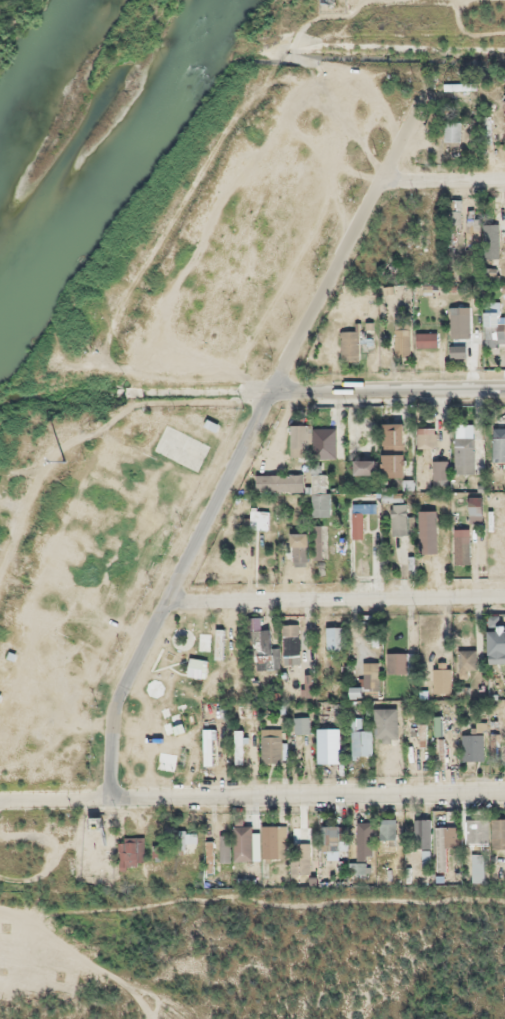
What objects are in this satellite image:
river: (133, 40)
building: (453, 129)
road: (446, 169)
river: (49, 184)
building: (492, 241)
building: (504, 317)
building: (461, 319)
building: (491, 324)
building: (427, 337)
building: (405, 340)
building: (357, 343)
building: (459, 350)
road: (320, 387)
road: (252, 430)
building: (427, 436)
building: (314, 440)
building: (498, 446)
building: (184, 447)
building: (465, 453)
building: (393, 460)
building: (365, 462)
building: (442, 469)
building: (280, 481)
building: (323, 502)
building: (363, 516)
building: (401, 517)
building: (428, 528)
building: (319, 539)
building: (297, 545)
road: (337, 590)
building: (496, 642)
building: (283, 648)
building: (401, 660)
building: (466, 662)
building: (370, 677)
building: (301, 723)
building: (361, 735)
building: (330, 742)
building: (273, 744)
building: (472, 744)
road: (310, 791)
building: (388, 829)
building: (477, 830)
building: (498, 831)
building: (334, 833)
building: (188, 839)
building: (365, 839)
building: (276, 841)
building: (446, 844)
building: (133, 850)
building: (302, 858)

